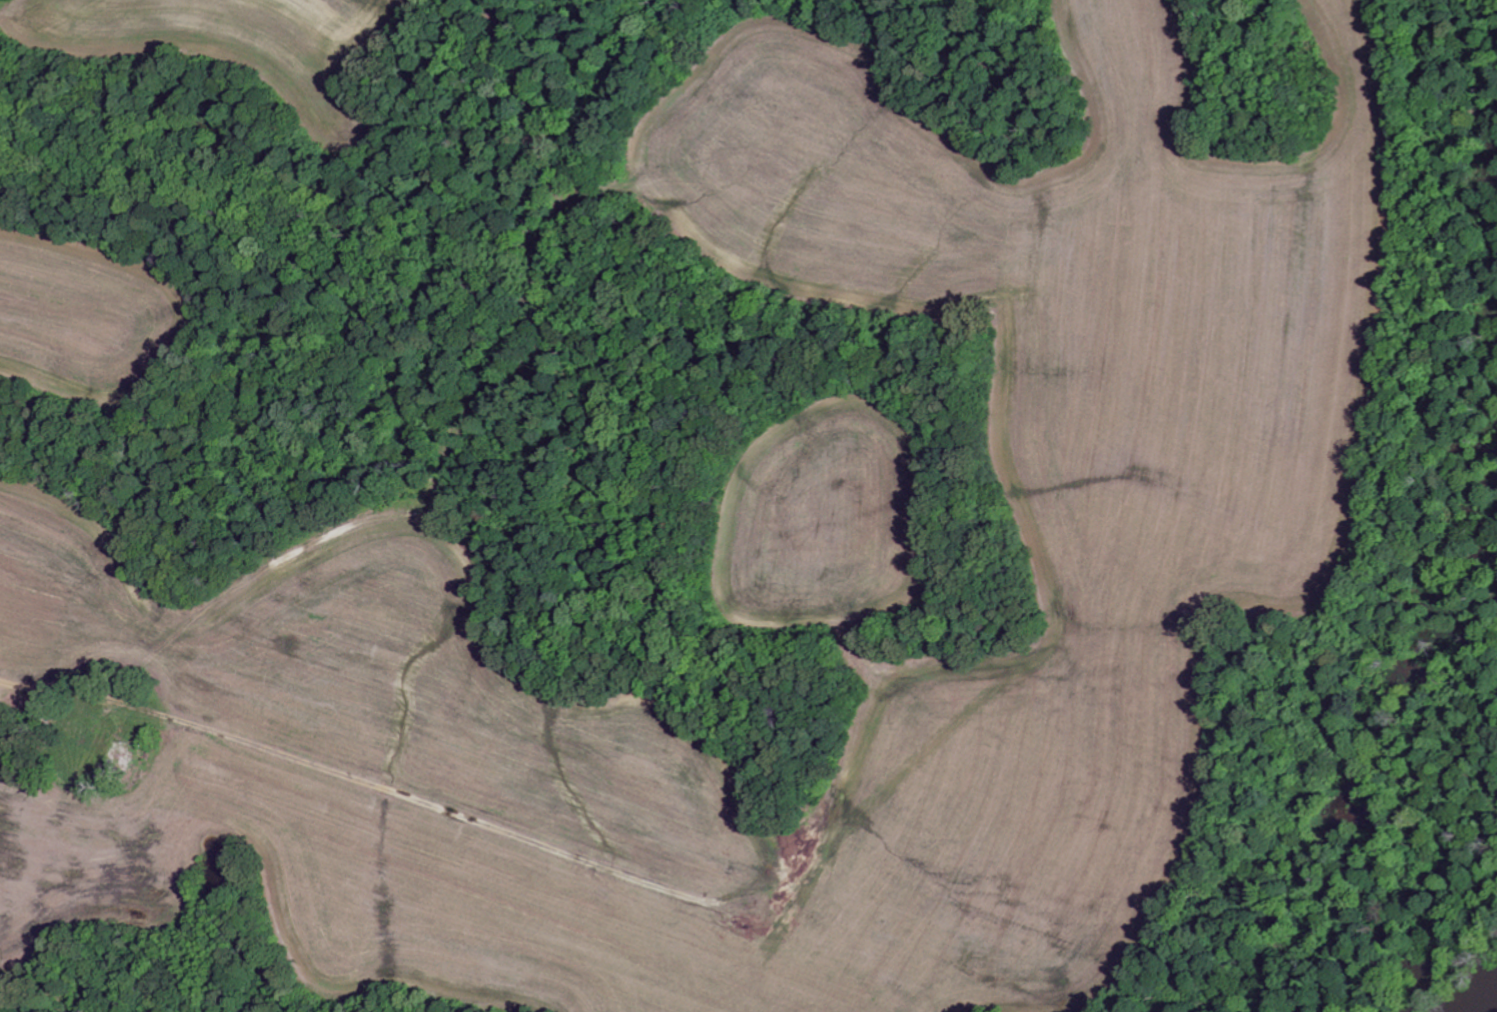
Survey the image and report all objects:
river: (1486, 1002)

